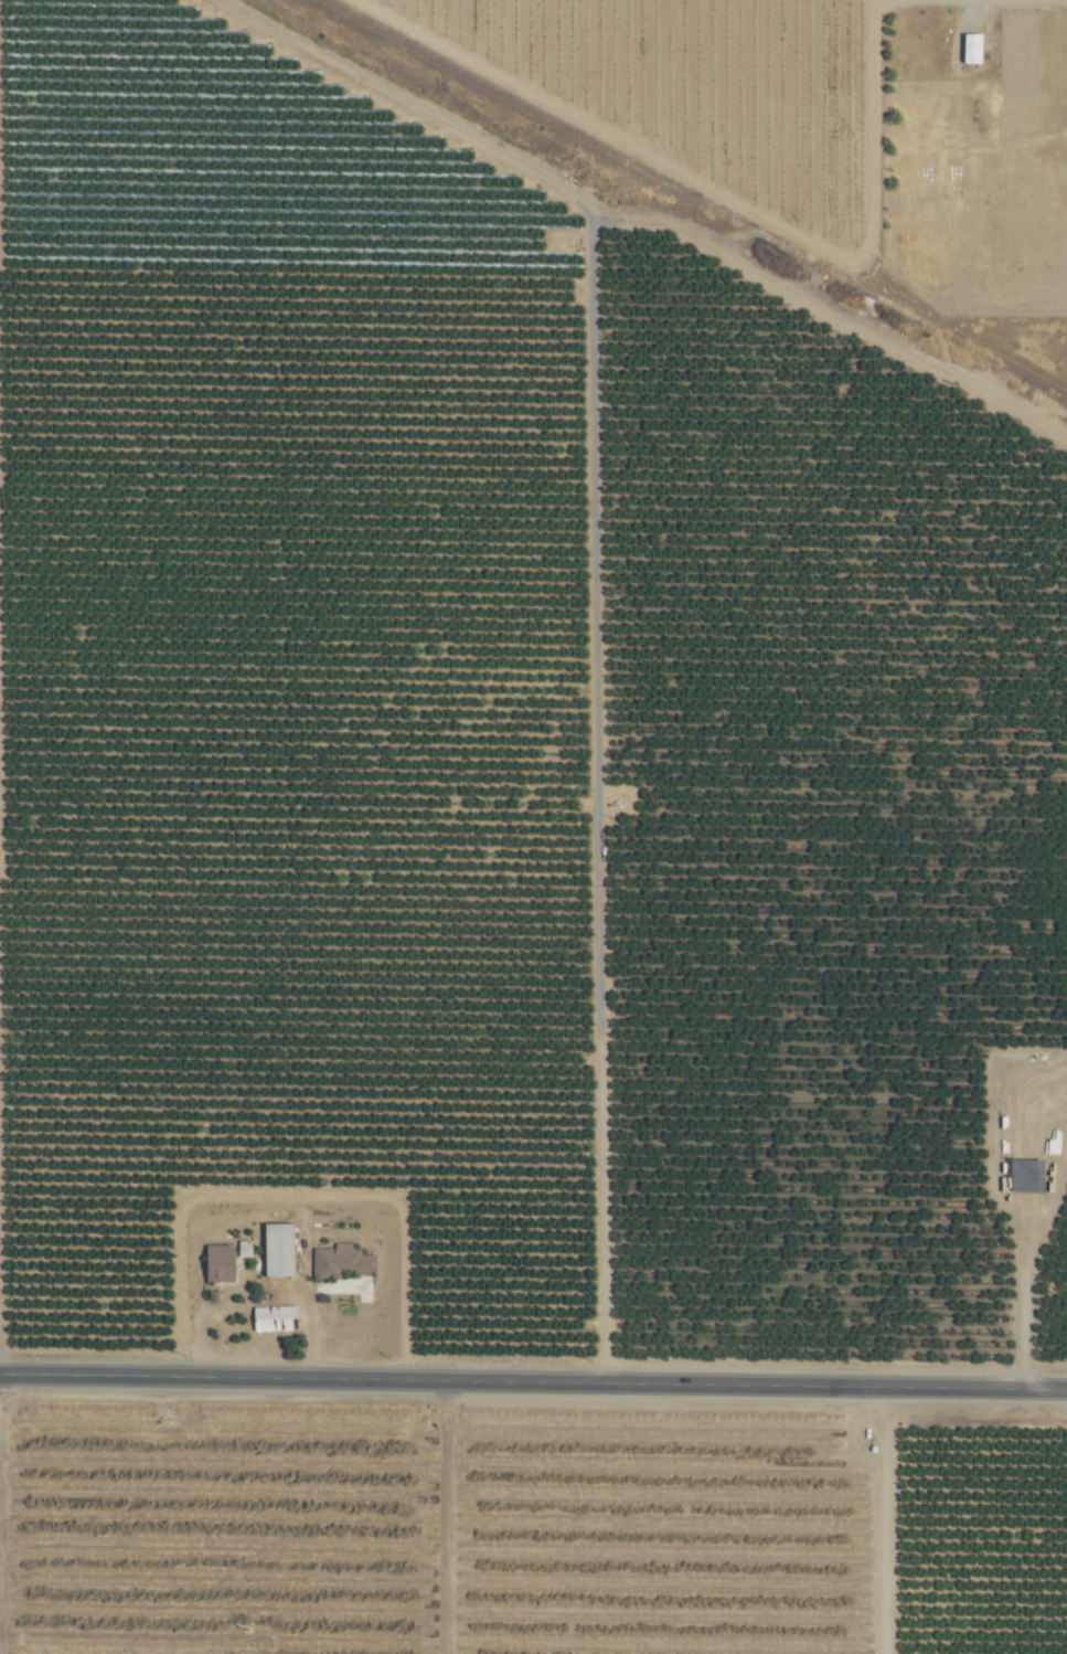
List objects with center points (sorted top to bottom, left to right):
building: (969, 49)
crop: (533, 827)
building: (276, 1250)
building: (341, 1261)
building: (216, 1263)
building: (271, 1318)
road: (533, 1382)
road: (858, 1520)

